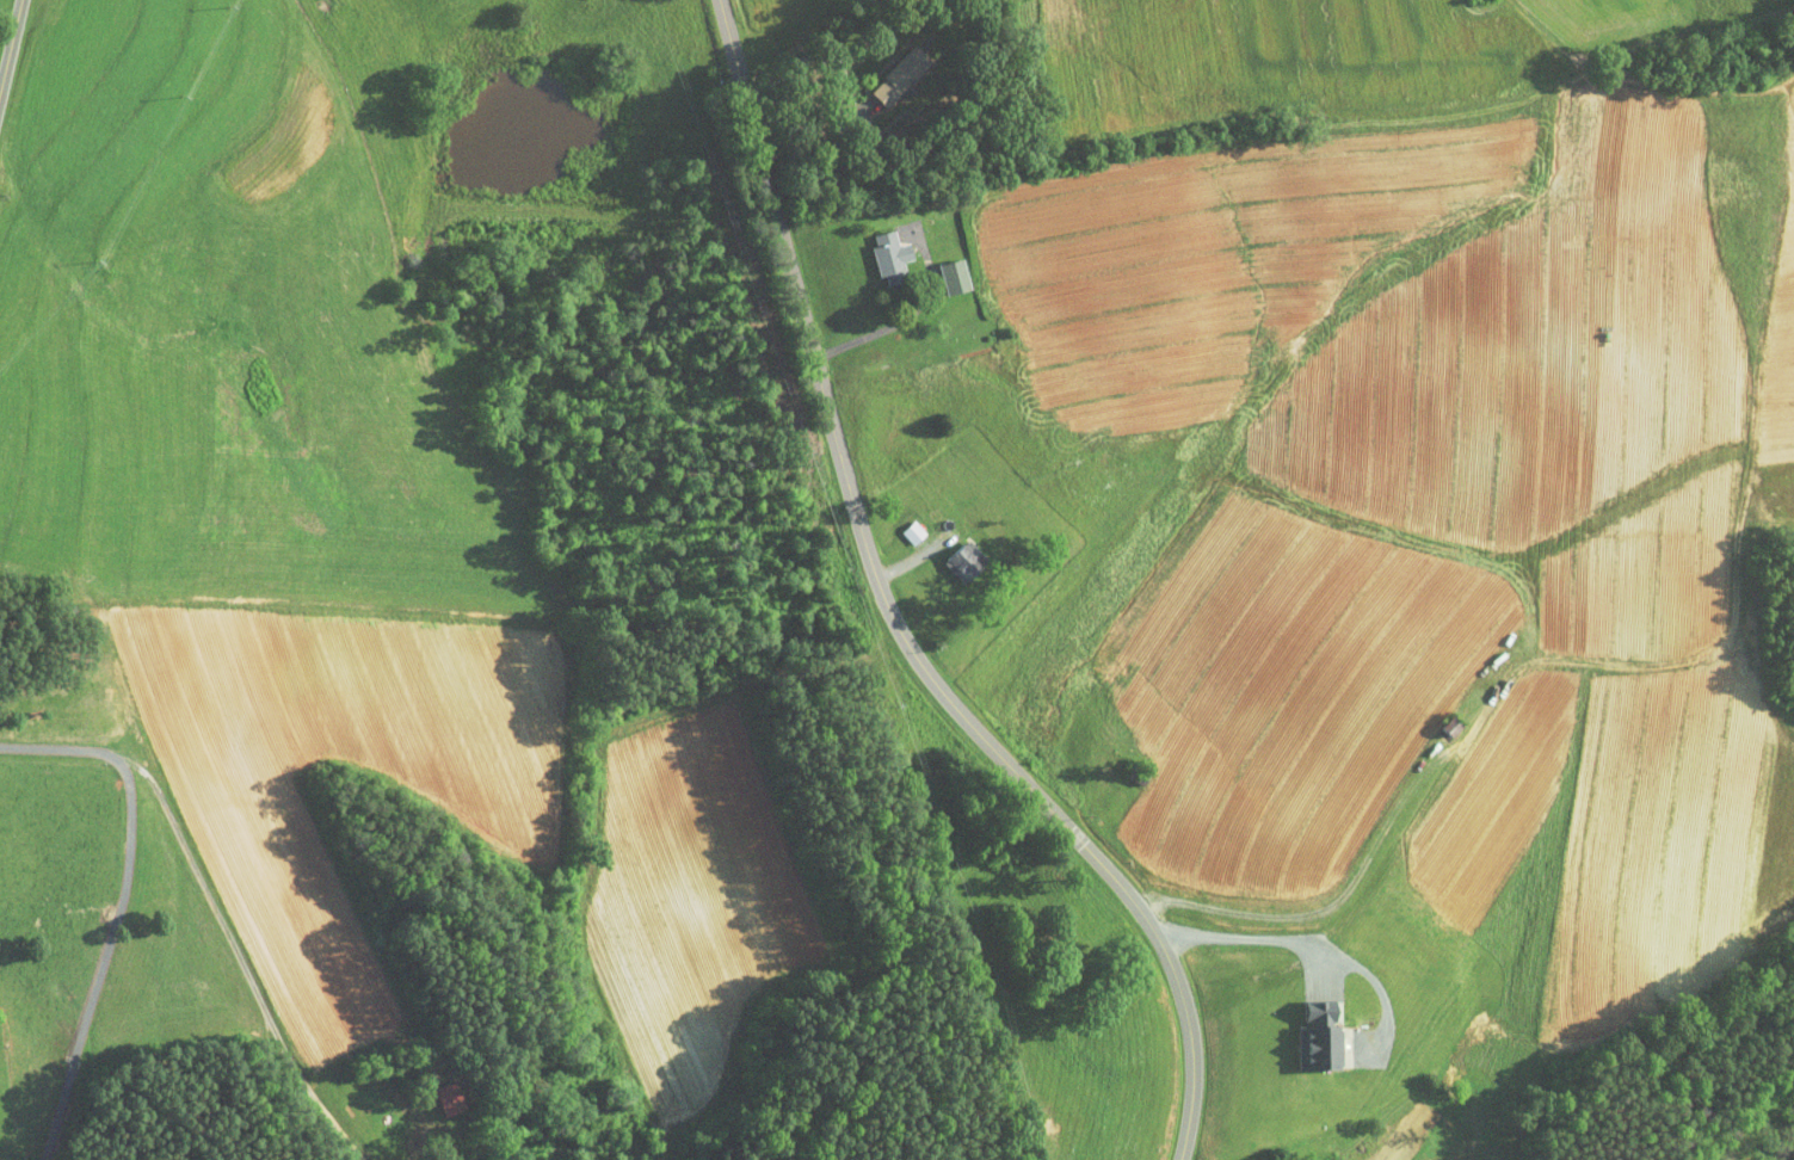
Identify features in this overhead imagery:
road: (1524, 11)
road: (12, 51)
road: (819, 55)
building: (890, 68)
building: (880, 249)
building: (943, 269)
road: (906, 317)
building: (901, 524)
building: (955, 554)
road: (898, 617)
road: (1314, 902)
road: (119, 906)
road: (1257, 938)
road: (238, 958)
building: (438, 1091)

